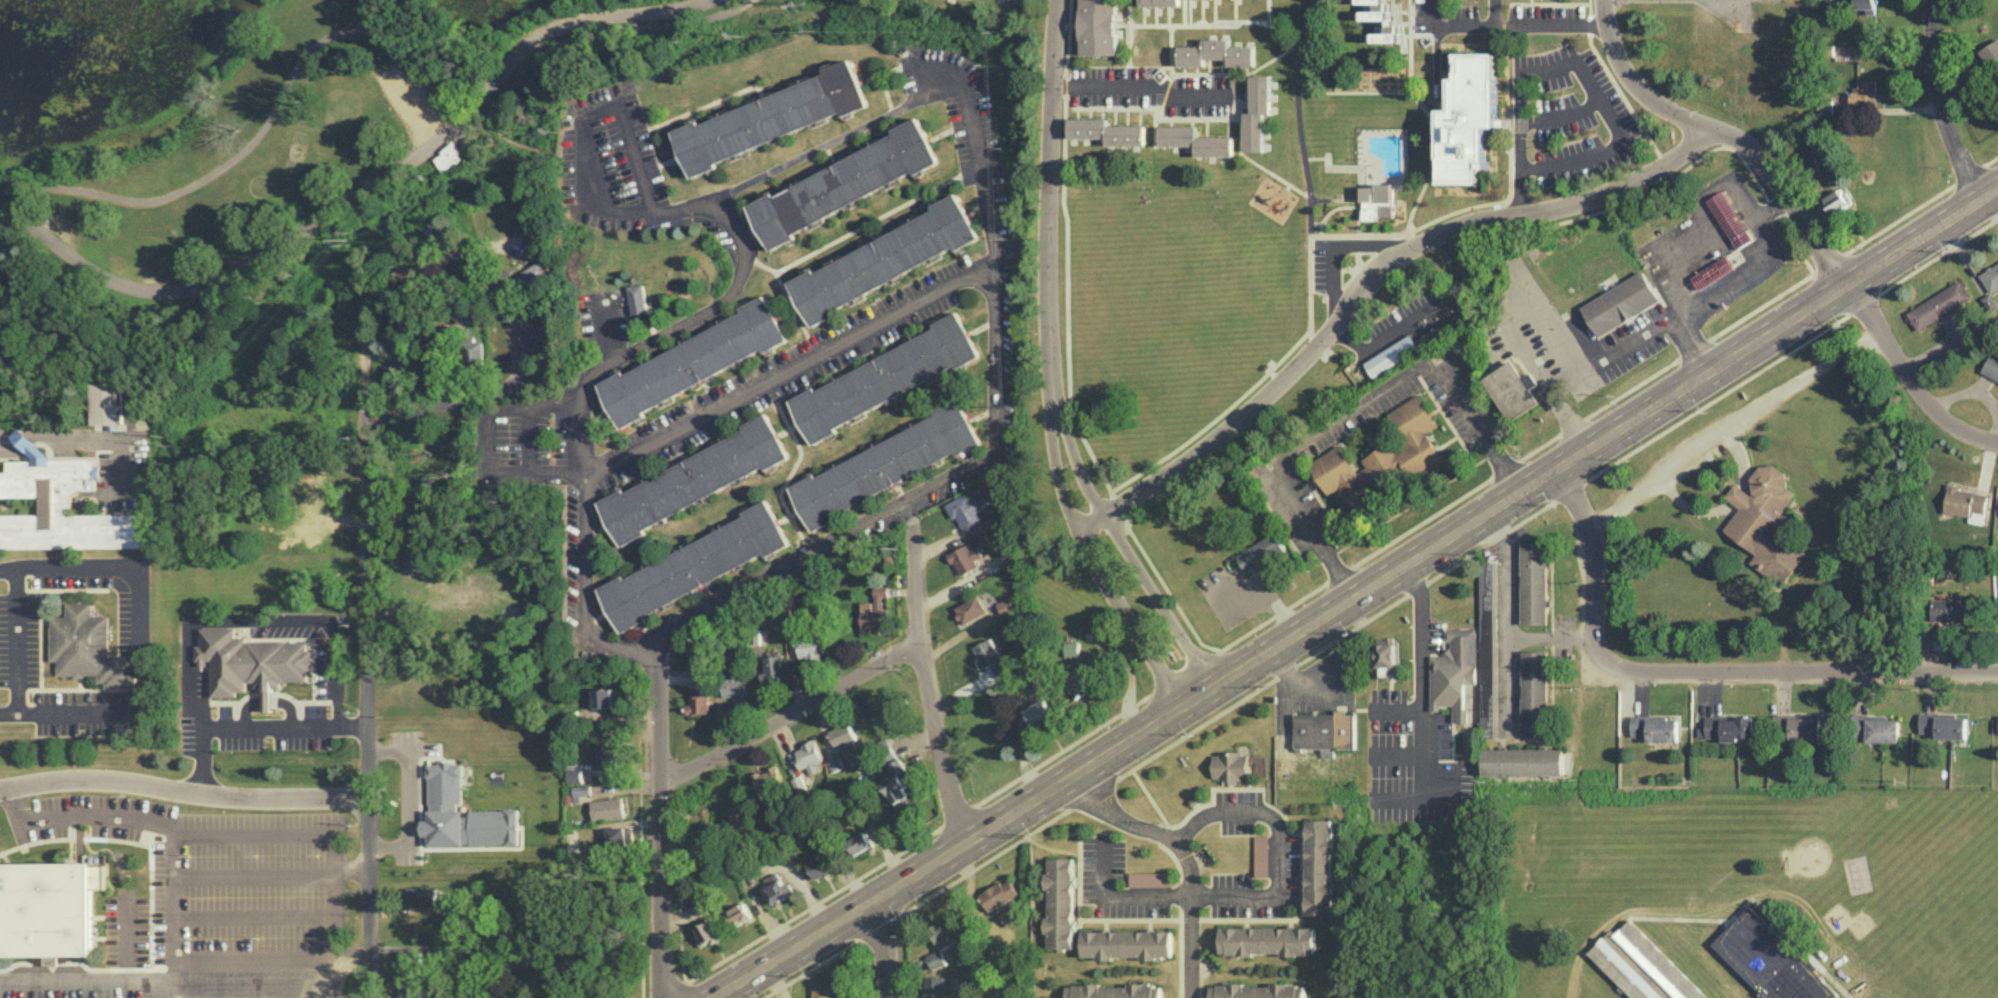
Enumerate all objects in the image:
building: (1161, 2)
road: (1549, 2)
building: (1868, 5)
road: (1588, 7)
building: (1375, 9)
road: (1268, 10)
road: (1183, 12)
road: (1496, 12)
road: (1129, 13)
road: (1551, 22)
road: (1588, 22)
road: (1269, 23)
road: (1452, 24)
building: (1099, 27)
road: (375, 29)
building: (1388, 32)
road: (1169, 35)
road: (1129, 36)
road: (1067, 37)
building: (1990, 52)
building: (1217, 53)
road: (1631, 79)
road: (1163, 80)
road: (1064, 84)
road: (1142, 86)
road: (1967, 86)
road: (1353, 90)
building: (1864, 91)
road: (1619, 93)
road: (1159, 97)
road: (1937, 100)
road: (1159, 108)
building: (1258, 112)
road: (1297, 115)
road: (1561, 116)
building: (769, 117)
building: (1468, 117)
road: (1239, 118)
road: (1433, 121)
road: (1611, 122)
building: (1108, 131)
park: (273, 133)
road: (1521, 137)
building: (1198, 140)
road: (830, 141)
building: (448, 157)
road: (980, 162)
road: (1663, 165)
building: (844, 183)
road: (361, 191)
road: (1785, 191)
building: (1377, 198)
building: (1837, 200)
road: (1344, 204)
road: (720, 208)
road: (1498, 213)
building: (1730, 219)
road: (1314, 222)
road: (1392, 231)
road: (1337, 250)
building: (883, 259)
road: (1052, 261)
road: (420, 262)
building: (1713, 272)
building: (535, 273)
road: (1372, 274)
building: (1990, 276)
road: (1724, 286)
building: (639, 298)
road: (1067, 298)
building: (1990, 301)
building: (1621, 303)
building: (1939, 304)
road: (1422, 314)
road: (609, 328)
building: (534, 335)
building: (474, 351)
road: (1613, 354)
building: (1391, 355)
building: (693, 360)
road: (790, 367)
building: (1991, 367)
building: (394, 373)
building: (885, 377)
road: (1908, 377)
building: (1513, 389)
road: (1555, 393)
road: (1613, 398)
road: (440, 401)
building: (109, 404)
road: (994, 409)
road: (1353, 410)
road: (1215, 416)
road: (1734, 424)
road: (102, 433)
road: (24, 439)
road: (486, 439)
road: (9, 448)
building: (1383, 456)
building: (885, 465)
building: (694, 479)
building: (1965, 503)
building: (60, 505)
building: (970, 509)
building: (1764, 522)
building: (1261, 553)
building: (966, 558)
road: (105, 564)
building: (694, 565)
road: (769, 569)
building: (1534, 582)
road: (584, 588)
road: (62, 589)
building: (1485, 593)
road: (1363, 597)
road: (1163, 600)
building: (1006, 605)
building: (970, 609)
building: (1952, 609)
building: (875, 610)
road: (1131, 613)
road: (285, 619)
road: (1507, 620)
road: (46, 621)
road: (1552, 636)
road: (311, 639)
road: (41, 640)
road: (17, 642)
building: (89, 648)
building: (809, 648)
building: (1072, 648)
building: (1385, 655)
building: (991, 656)
building: (252, 663)
road: (370, 664)
building: (771, 667)
building: (1453, 671)
road: (1700, 671)
road: (1421, 679)
building: (1081, 681)
road: (80, 684)
building: (736, 685)
road: (189, 686)
road: (335, 687)
road: (71, 690)
building: (1534, 691)
road: (268, 693)
road: (918, 693)
building: (603, 697)
road: (268, 699)
road: (303, 701)
building: (699, 701)
road: (217, 702)
road: (290, 706)
road: (246, 707)
building: (1039, 711)
building: (1487, 714)
road: (783, 718)
road: (268, 724)
building: (1942, 725)
building: (1799, 726)
building: (1656, 728)
building: (1728, 728)
building: (1879, 728)
building: (1325, 731)
building: (847, 742)
building: (606, 754)
building: (809, 756)
building: (1523, 761)
building: (835, 762)
building: (1229, 766)
building: (575, 774)
building: (768, 780)
building: (799, 782)
building: (898, 782)
building: (582, 792)
road: (186, 794)
road: (404, 801)
building: (608, 808)
road: (79, 813)
building: (463, 813)
building: (740, 814)
road: (661, 820)
road: (174, 828)
building: (620, 836)
building: (860, 842)
building: (1260, 855)
road: (1184, 857)
building: (820, 863)
road: (354, 864)
building: (1319, 867)
building: (1148, 878)
building: (777, 887)
building: (999, 894)
road: (1257, 894)
building: (422, 895)
building: (1060, 902)
building: (700, 904)
road: (151, 907)
building: (47, 909)
building: (740, 913)
building: (1011, 915)
building: (946, 932)
building: (705, 933)
building: (1267, 940)
building: (1127, 943)
road: (886, 946)
road: (356, 958)
building: (937, 958)
building: (412, 959)
building: (1769, 960)
building: (1642, 967)
building: (935, 987)
road: (175, 988)
building: (1113, 991)
building: (1256, 991)
building: (410, 992)
building: (825, 993)
building: (1708, 997)

